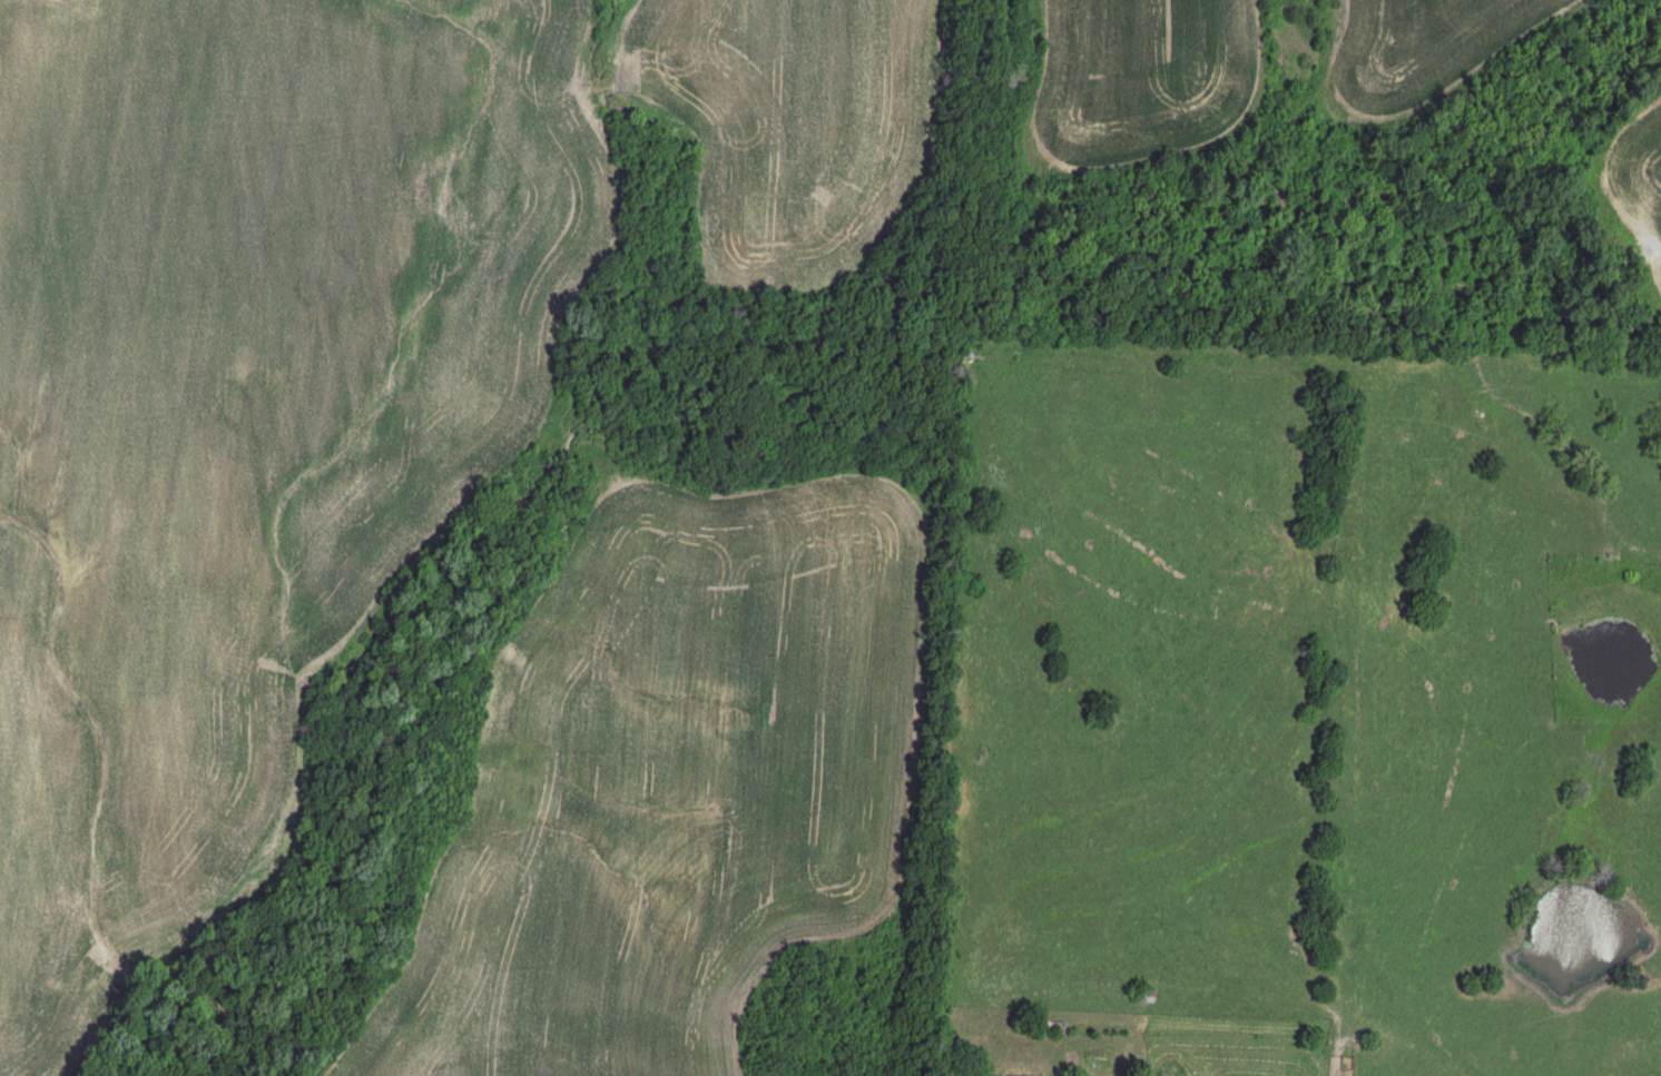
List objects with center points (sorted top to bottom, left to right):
building: (1012, 1075)

